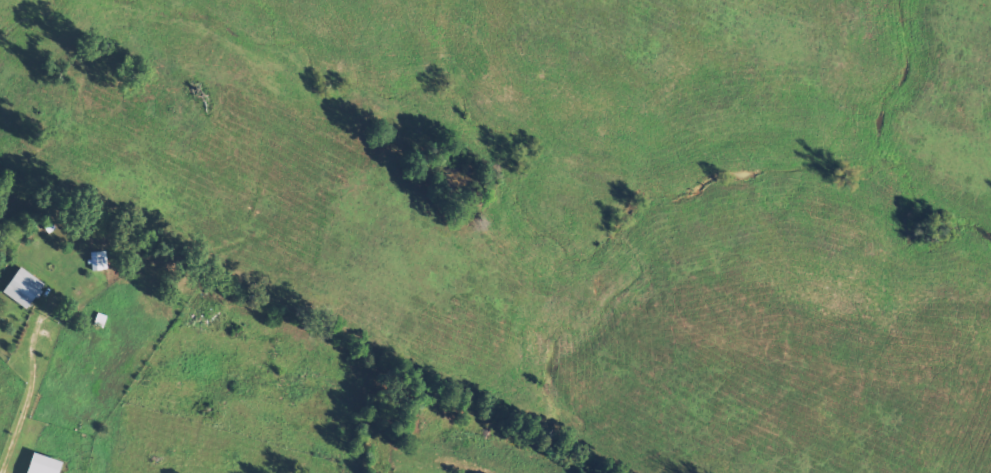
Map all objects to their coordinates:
building: (102, 260)
building: (25, 287)
building: (45, 464)

